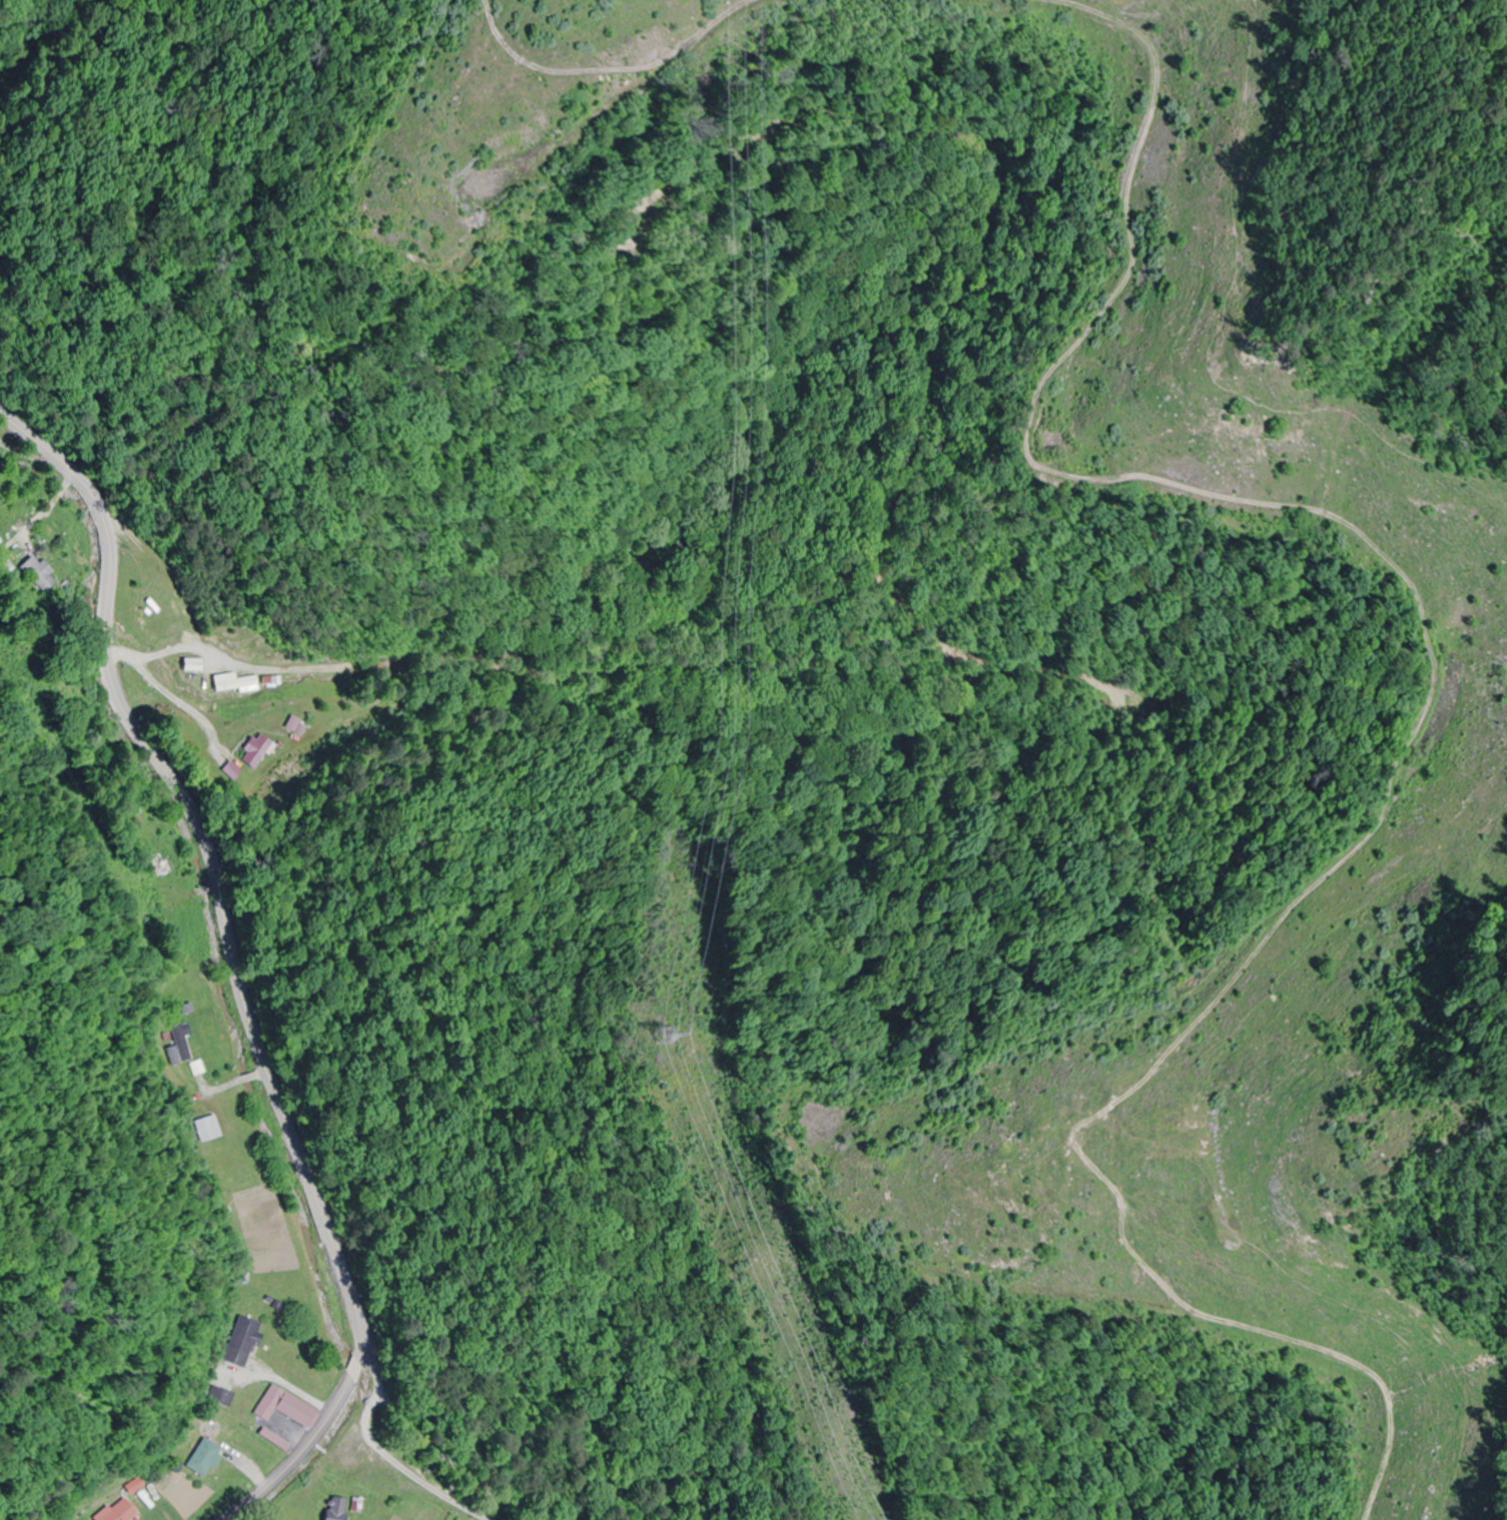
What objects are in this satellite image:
building: (36, 572)
road: (124, 648)
building: (190, 664)
building: (272, 680)
building: (233, 681)
building: (294, 725)
building: (254, 751)
road: (213, 864)
power tower: (655, 1038)
building: (181, 1041)
building: (209, 1128)
building: (229, 1166)
building: (240, 1341)
building: (219, 1396)
building: (283, 1407)
building: (273, 1440)
road: (299, 1451)
road: (437, 1452)
building: (202, 1457)
building: (335, 1508)
building: (118, 1511)

